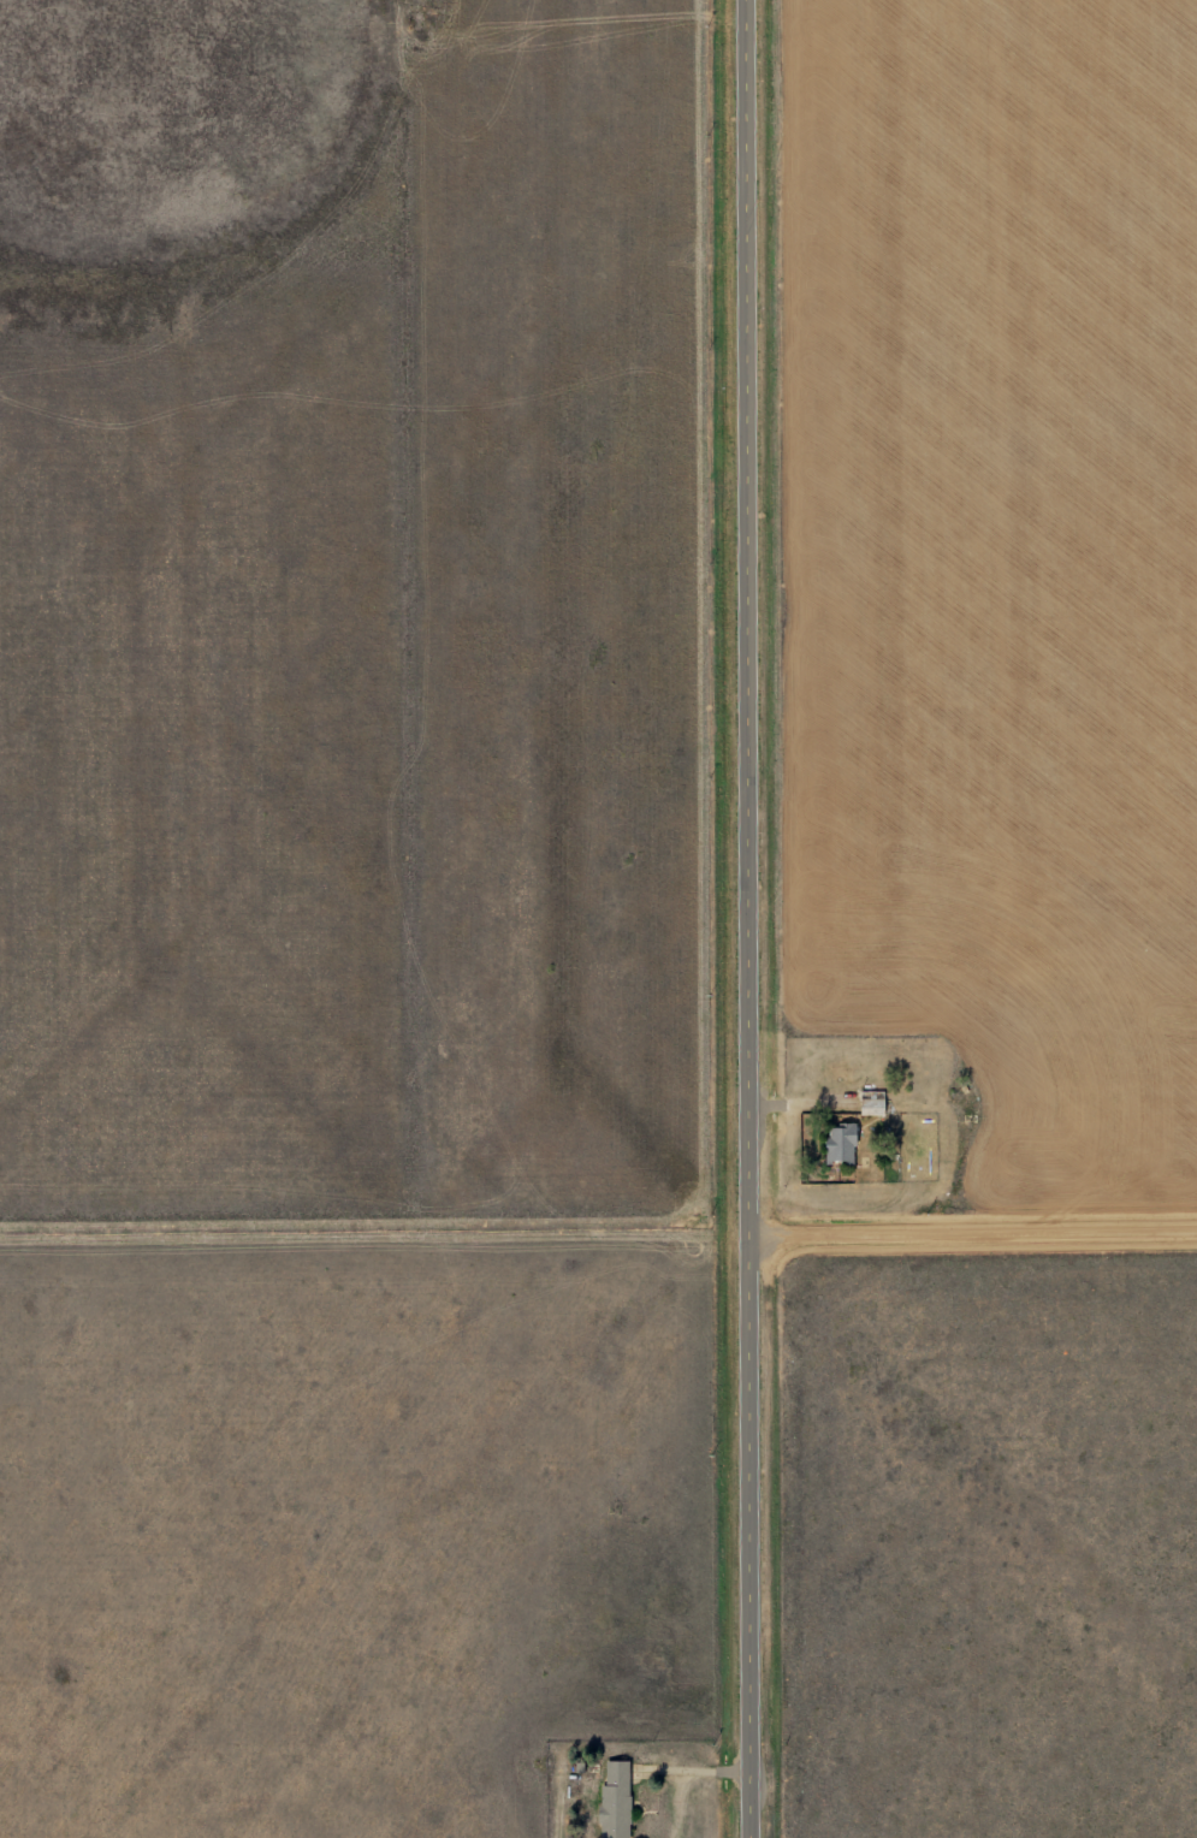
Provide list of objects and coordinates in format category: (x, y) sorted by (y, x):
road: (749, 918)
building: (869, 1103)
building: (836, 1144)
road: (973, 1247)
building: (610, 1798)

